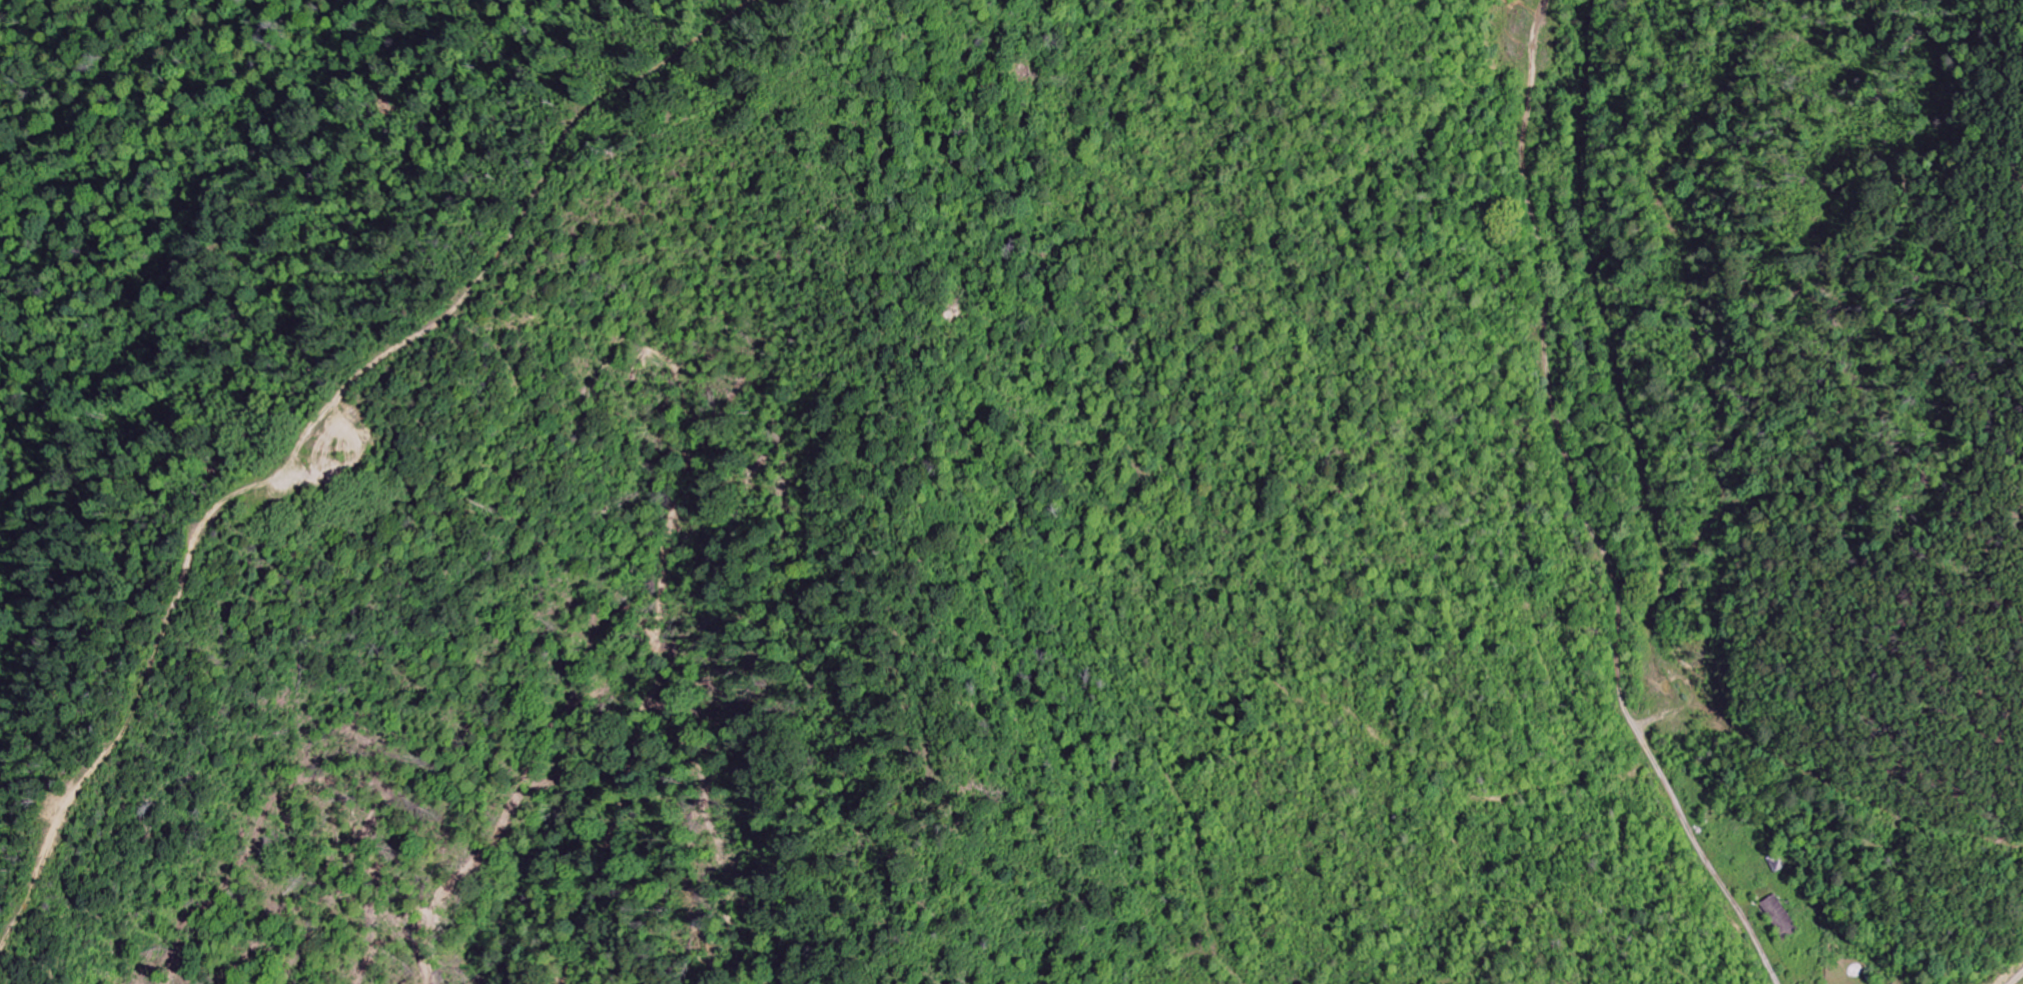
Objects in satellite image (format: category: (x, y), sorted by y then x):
building: (1779, 916)

